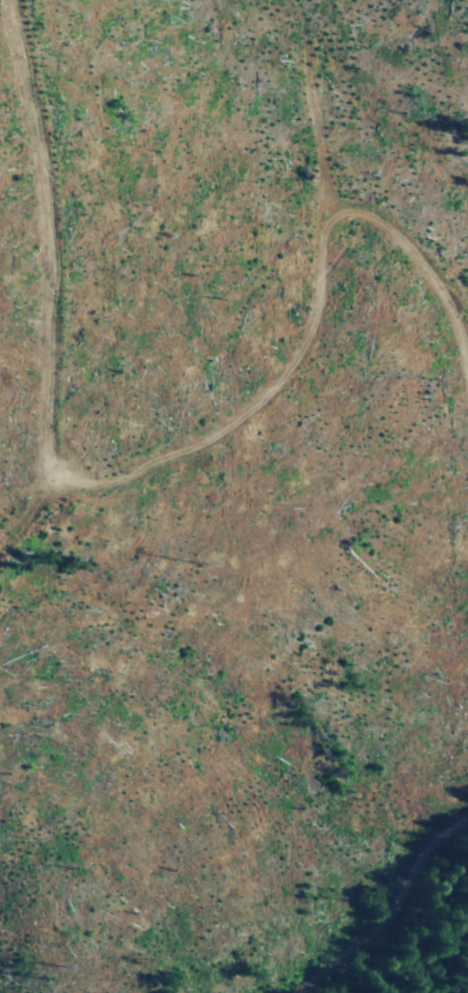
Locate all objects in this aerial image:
road: (391, 926)

